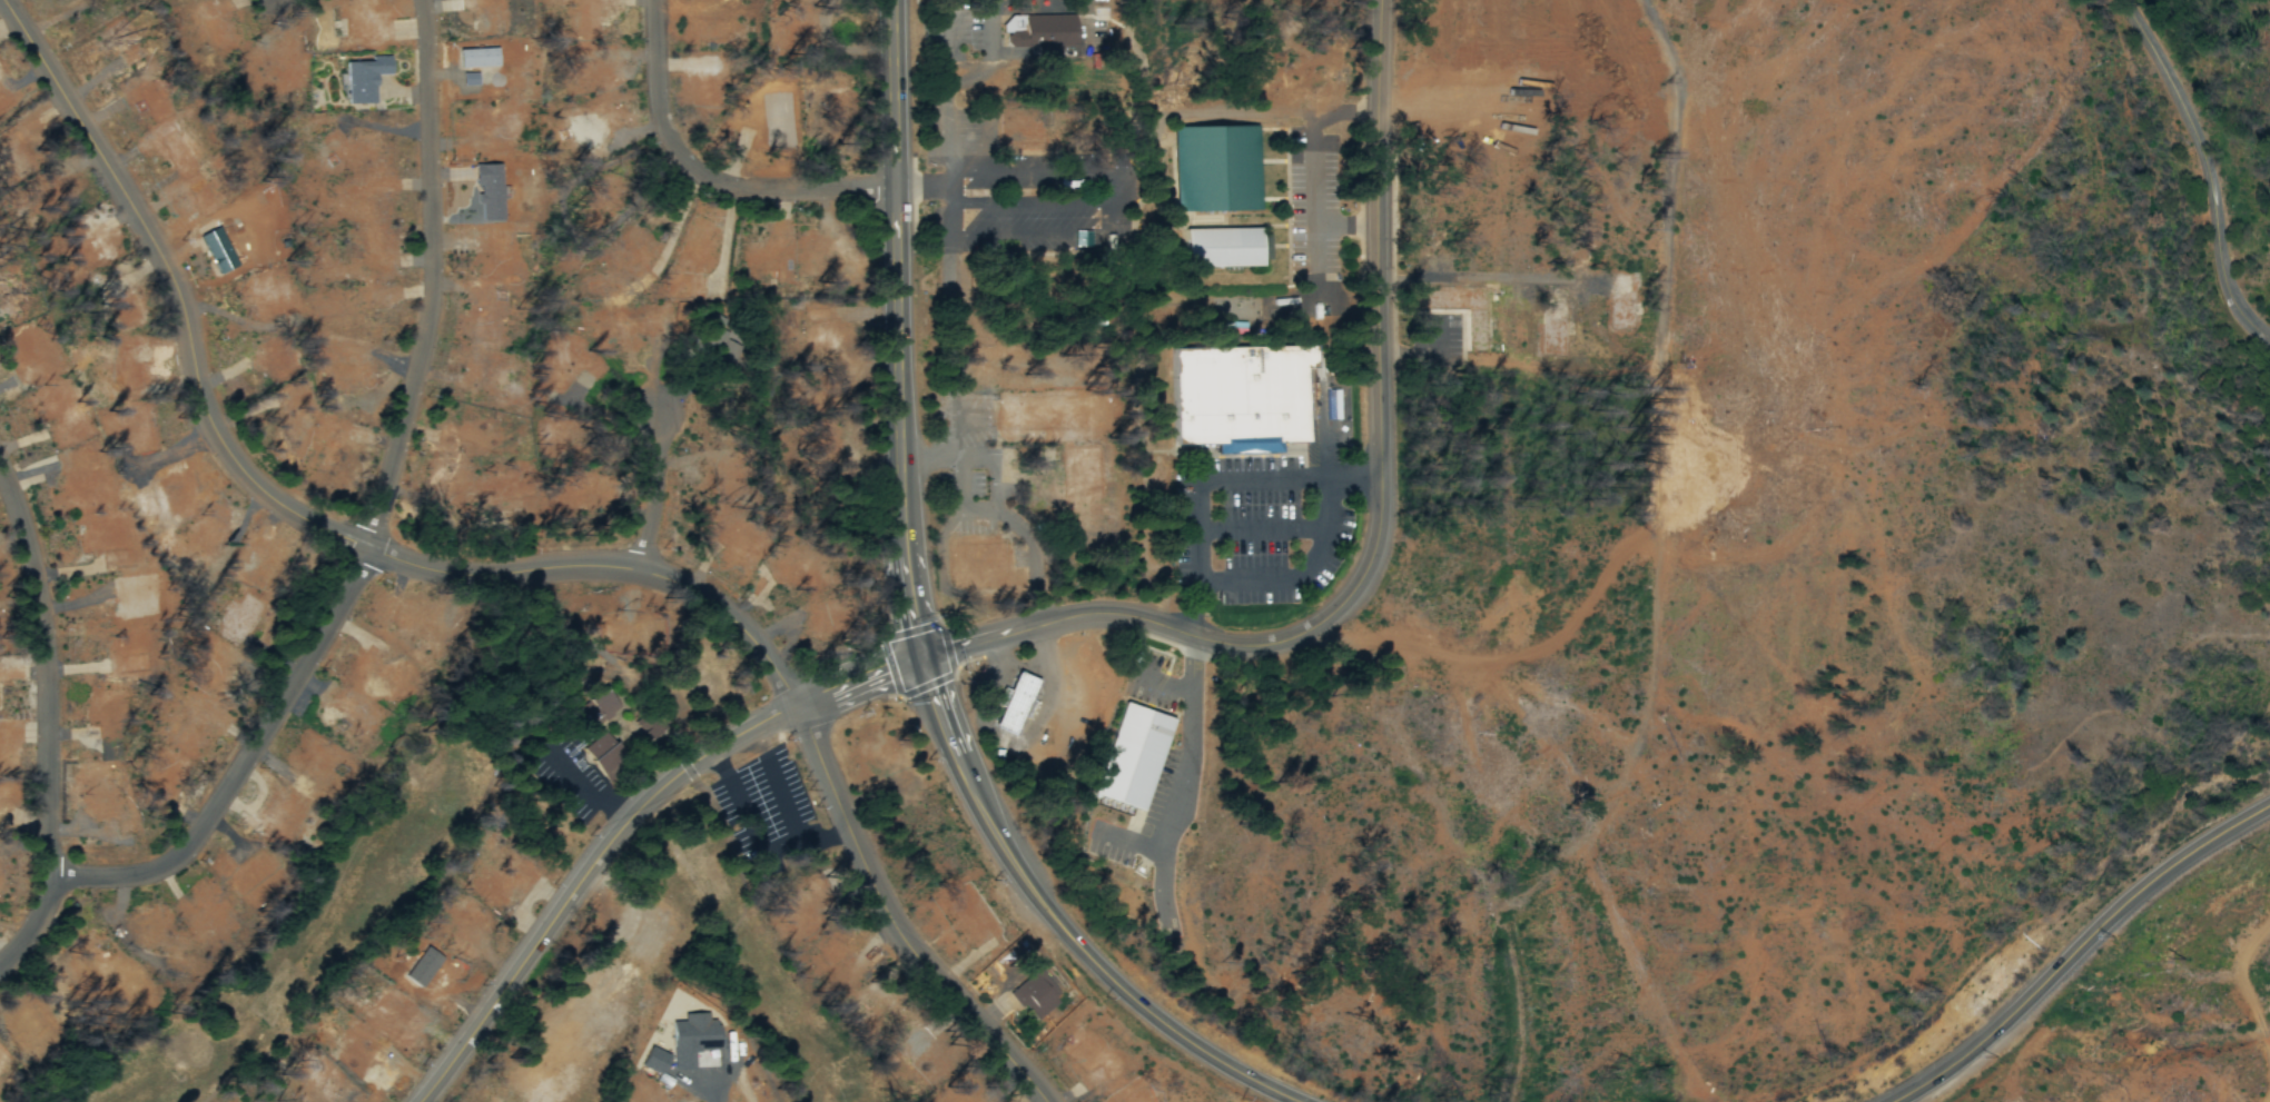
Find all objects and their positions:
building: (1043, 33)
building: (1017, 123)
road: (2207, 167)
building: (1214, 169)
road: (708, 175)
parking lot: (1035, 203)
road: (1030, 206)
road: (1097, 237)
building: (1222, 250)
building: (1464, 312)
building: (1242, 399)
building: (1052, 415)
building: (1348, 454)
building: (1083, 483)
road: (657, 496)
road: (379, 519)
road: (1381, 527)
road: (1260, 530)
parking lot: (1254, 532)
road: (1196, 548)
building: (980, 570)
road: (503, 575)
road: (919, 632)
building: (1009, 703)
gas station: (1009, 703)
road: (50, 721)
building: (1134, 760)
road: (629, 825)
road: (2077, 947)
building: (1034, 996)

